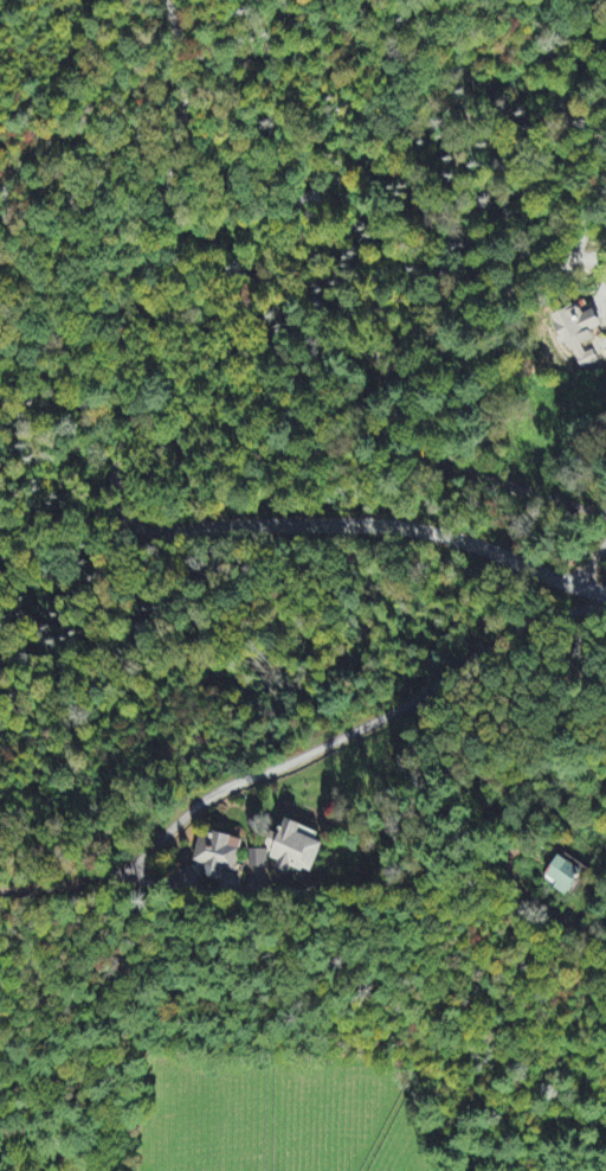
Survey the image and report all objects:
road: (181, 137)
building: (305, 199)
building: (579, 338)
road: (344, 352)
road: (458, 463)
road: (239, 531)
road: (593, 565)
road: (304, 756)
building: (298, 850)
building: (218, 855)
building: (258, 860)
building: (563, 876)

